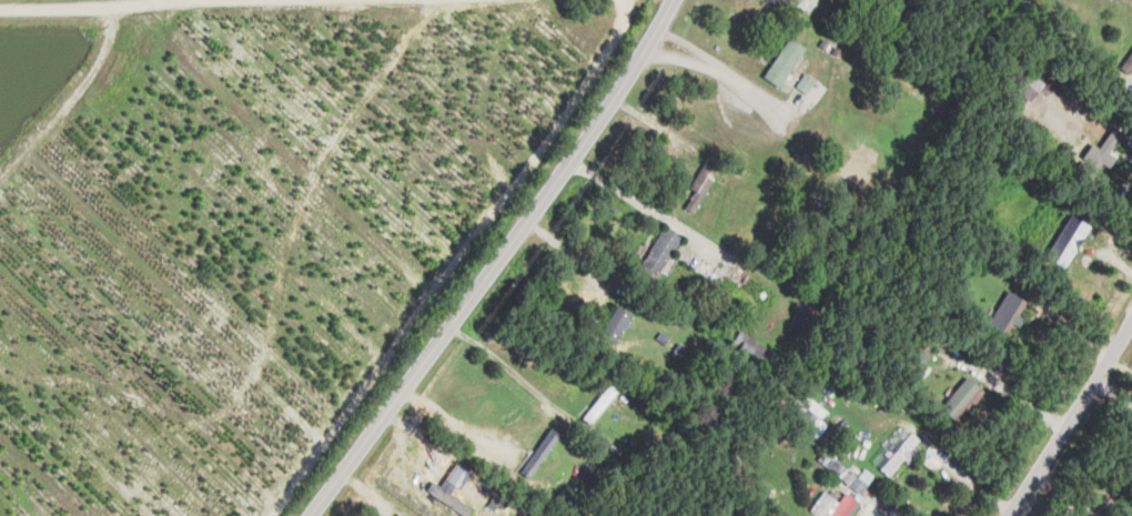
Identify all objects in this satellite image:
building: (784, 61)
road: (711, 71)
building: (805, 82)
building: (1101, 152)
road: (629, 194)
building: (1067, 241)
building: (659, 252)
road: (493, 262)
building: (1005, 314)
building: (615, 324)
road: (516, 373)
building: (962, 399)
building: (811, 416)
road: (1068, 416)
road: (452, 422)
building: (539, 453)
building: (901, 453)
building: (457, 469)
building: (843, 473)
road: (1088, 482)
building: (446, 495)
building: (835, 505)
road: (873, 509)

